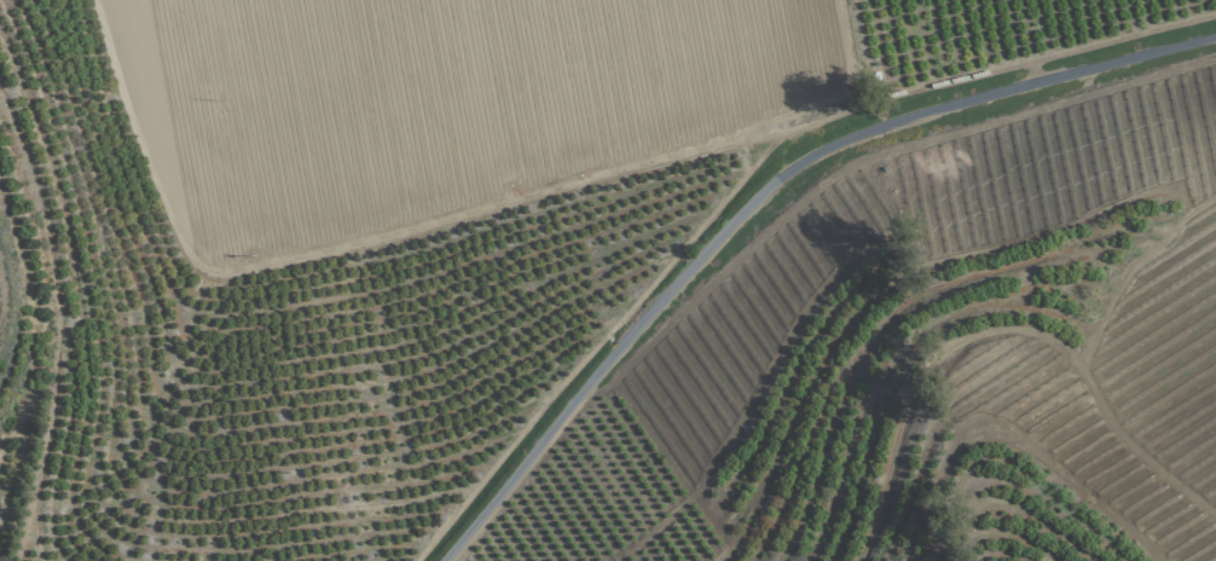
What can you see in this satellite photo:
road: (755, 189)
crop: (608, 280)

